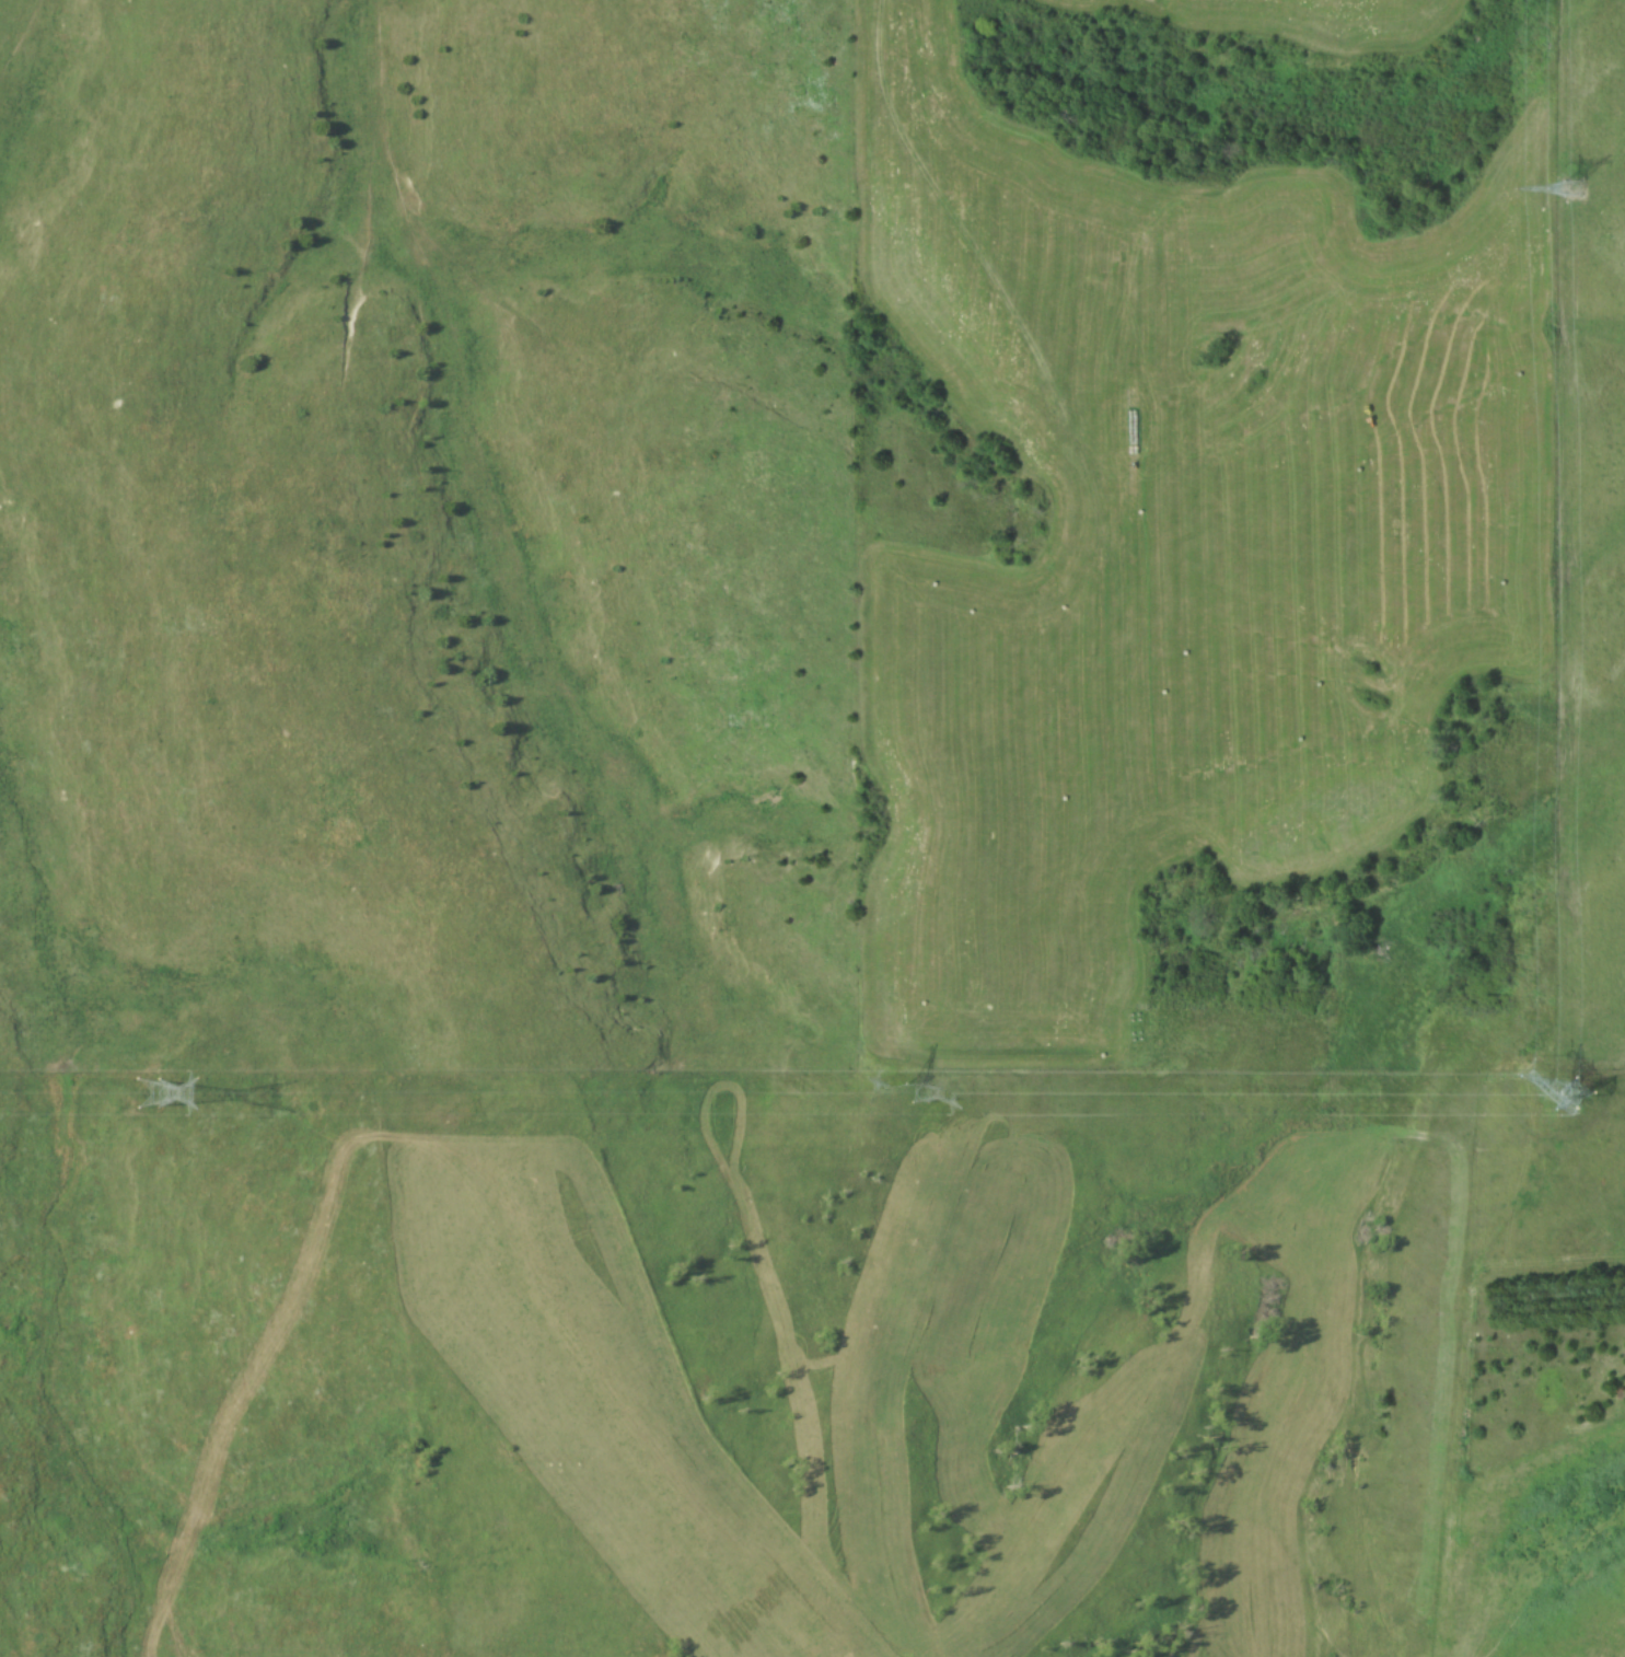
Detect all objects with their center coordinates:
power tower: (1572, 189)
power tower: (144, 1092)
power tower: (906, 1094)
power tower: (1576, 1097)

